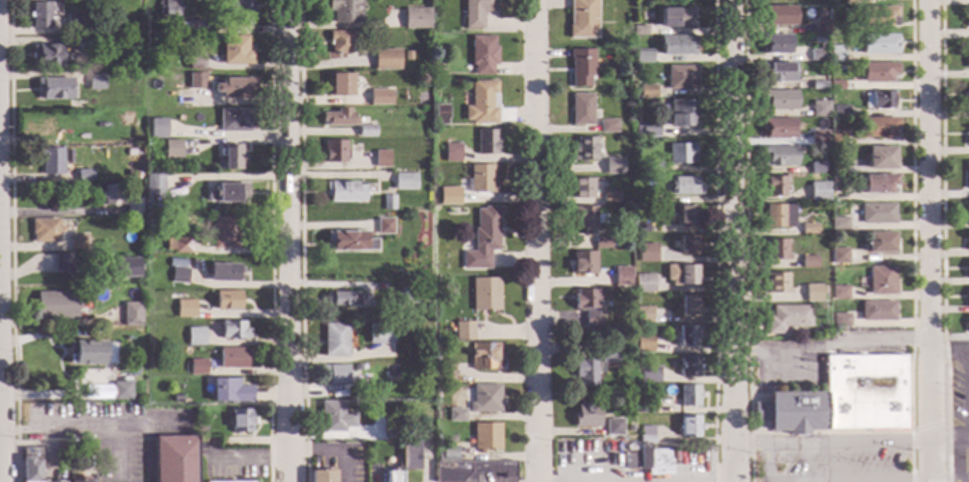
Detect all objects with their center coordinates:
building: (854, 1)
building: (169, 8)
building: (344, 10)
building: (241, 12)
building: (475, 12)
building: (40, 15)
building: (776, 15)
building: (874, 16)
building: (674, 17)
building: (967, 18)
building: (413, 19)
building: (581, 19)
building: (76, 23)
building: (182, 25)
building: (200, 26)
building: (820, 27)
building: (94, 31)
building: (639, 31)
building: (816, 39)
building: (339, 42)
building: (83, 43)
building: (775, 44)
building: (878, 44)
building: (675, 45)
building: (820, 46)
building: (235, 51)
building: (835, 54)
building: (482, 55)
building: (816, 55)
building: (48, 56)
building: (407, 56)
building: (385, 59)
building: (638, 59)
building: (966, 61)
building: (196, 62)
building: (437, 67)
building: (580, 67)
building: (777, 72)
building: (878, 72)
building: (680, 78)
building: (135, 79)
building: (196, 81)
building: (96, 82)
building: (339, 85)
building: (817, 85)
building: (835, 85)
building: (235, 88)
building: (55, 89)
building: (646, 91)
building: (966, 95)
building: (379, 97)
building: (778, 100)
building: (879, 100)
building: (481, 103)
building: (580, 109)
building: (819, 109)
building: (840, 111)
building: (681, 113)
building: (439, 114)
building: (196, 118)
building: (338, 118)
building: (235, 120)
building: (606, 126)
building: (879, 127)
building: (126, 128)
building: (777, 128)
building: (157, 129)
building: (648, 129)
building: (366, 131)
building: (837, 137)
building: (817, 138)
building: (967, 138)
building: (485, 142)
building: (417, 145)
building: (172, 149)
building: (583, 149)
building: (334, 152)
building: (451, 153)
building: (680, 153)
building: (777, 156)
building: (835, 156)
building: (231, 157)
building: (880, 158)
building: (381, 159)
building: (148, 160)
building: (50, 161)
building: (611, 167)
building: (650, 168)
building: (817, 168)
building: (132, 174)
building: (967, 174)
building: (84, 176)
building: (481, 179)
building: (835, 179)
building: (404, 182)
building: (878, 184)
building: (154, 186)
building: (683, 186)
building: (774, 187)
building: (581, 188)
building: (818, 191)
building: (344, 192)
building: (226, 193)
building: (111, 196)
building: (608, 197)
building: (645, 197)
building: (454, 198)
building: (387, 203)
building: (132, 207)
building: (967, 213)
building: (877, 214)
building: (686, 215)
building: (779, 215)
building: (585, 218)
road: (730, 221)
building: (839, 223)
building: (384, 227)
building: (640, 228)
building: (808, 229)
building: (44, 231)
building: (225, 233)
road: (285, 240)
building: (482, 240)
road: (534, 240)
road: (300, 241)
building: (351, 241)
road: (715, 241)
road: (745, 241)
road: (912, 241)
road: (931, 241)
road: (942, 241)
building: (967, 241)
building: (77, 243)
building: (600, 243)
building: (880, 243)
building: (178, 245)
building: (686, 245)
building: (776, 250)
building: (646, 253)
building: (839, 256)
building: (62, 262)
building: (411, 262)
building: (808, 262)
building: (582, 263)
building: (120, 268)
building: (968, 268)
building: (223, 272)
building: (167, 275)
building: (179, 275)
building: (680, 275)
building: (620, 276)
building: (882, 281)
building: (644, 283)
building: (777, 283)
building: (840, 292)
building: (812, 293)
building: (484, 295)
building: (169, 296)
building: (407, 296)
building: (968, 297)
building: (342, 299)
building: (228, 301)
building: (82, 304)
building: (687, 305)
building: (55, 306)
building: (587, 307)
building: (186, 309)
building: (878, 311)
building: (131, 314)
building: (642, 314)
building: (787, 318)
building: (841, 320)
building: (968, 322)
building: (234, 331)
building: (463, 331)
building: (380, 334)
building: (816, 335)
building: (195, 336)
building: (685, 336)
building: (335, 340)
building: (643, 343)
road: (830, 345)
building: (420, 349)
building: (86, 353)
building: (109, 353)
building: (607, 354)
building: (420, 356)
building: (483, 356)
building: (123, 358)
building: (232, 358)
building: (688, 366)
building: (197, 367)
road: (967, 370)
building: (584, 372)
building: (444, 373)
building: (649, 374)
building: (336, 375)
building: (364, 377)
road: (766, 379)
building: (120, 391)
building: (230, 391)
building: (688, 395)
building: (176, 398)
building: (843, 398)
building: (484, 399)
building: (646, 405)
building: (616, 408)
road: (764, 412)
parking lot: (958, 414)
building: (585, 415)
building: (455, 416)
building: (335, 417)
building: (241, 420)
road: (92, 424)
road: (928, 426)
building: (688, 427)
building: (201, 428)
building: (389, 428)
building: (611, 429)
road: (764, 432)
road: (829, 432)
building: (645, 435)
building: (484, 437)
road: (0, 443)
road: (849, 443)
road: (951, 443)
road: (748, 444)
building: (85, 449)
road: (795, 449)
road: (330, 450)
building: (376, 450)
road: (116, 451)
building: (409, 451)
building: (445, 454)
building: (174, 459)
parking lot: (830, 460)
building: (647, 461)
road: (956, 461)
road: (731, 463)
building: (30, 464)
building: (469, 470)
road: (516, 474)
building: (321, 476)
building: (392, 476)
building: (78, 479)
road: (951, 479)
road: (830, 480)
road: (647, 481)

